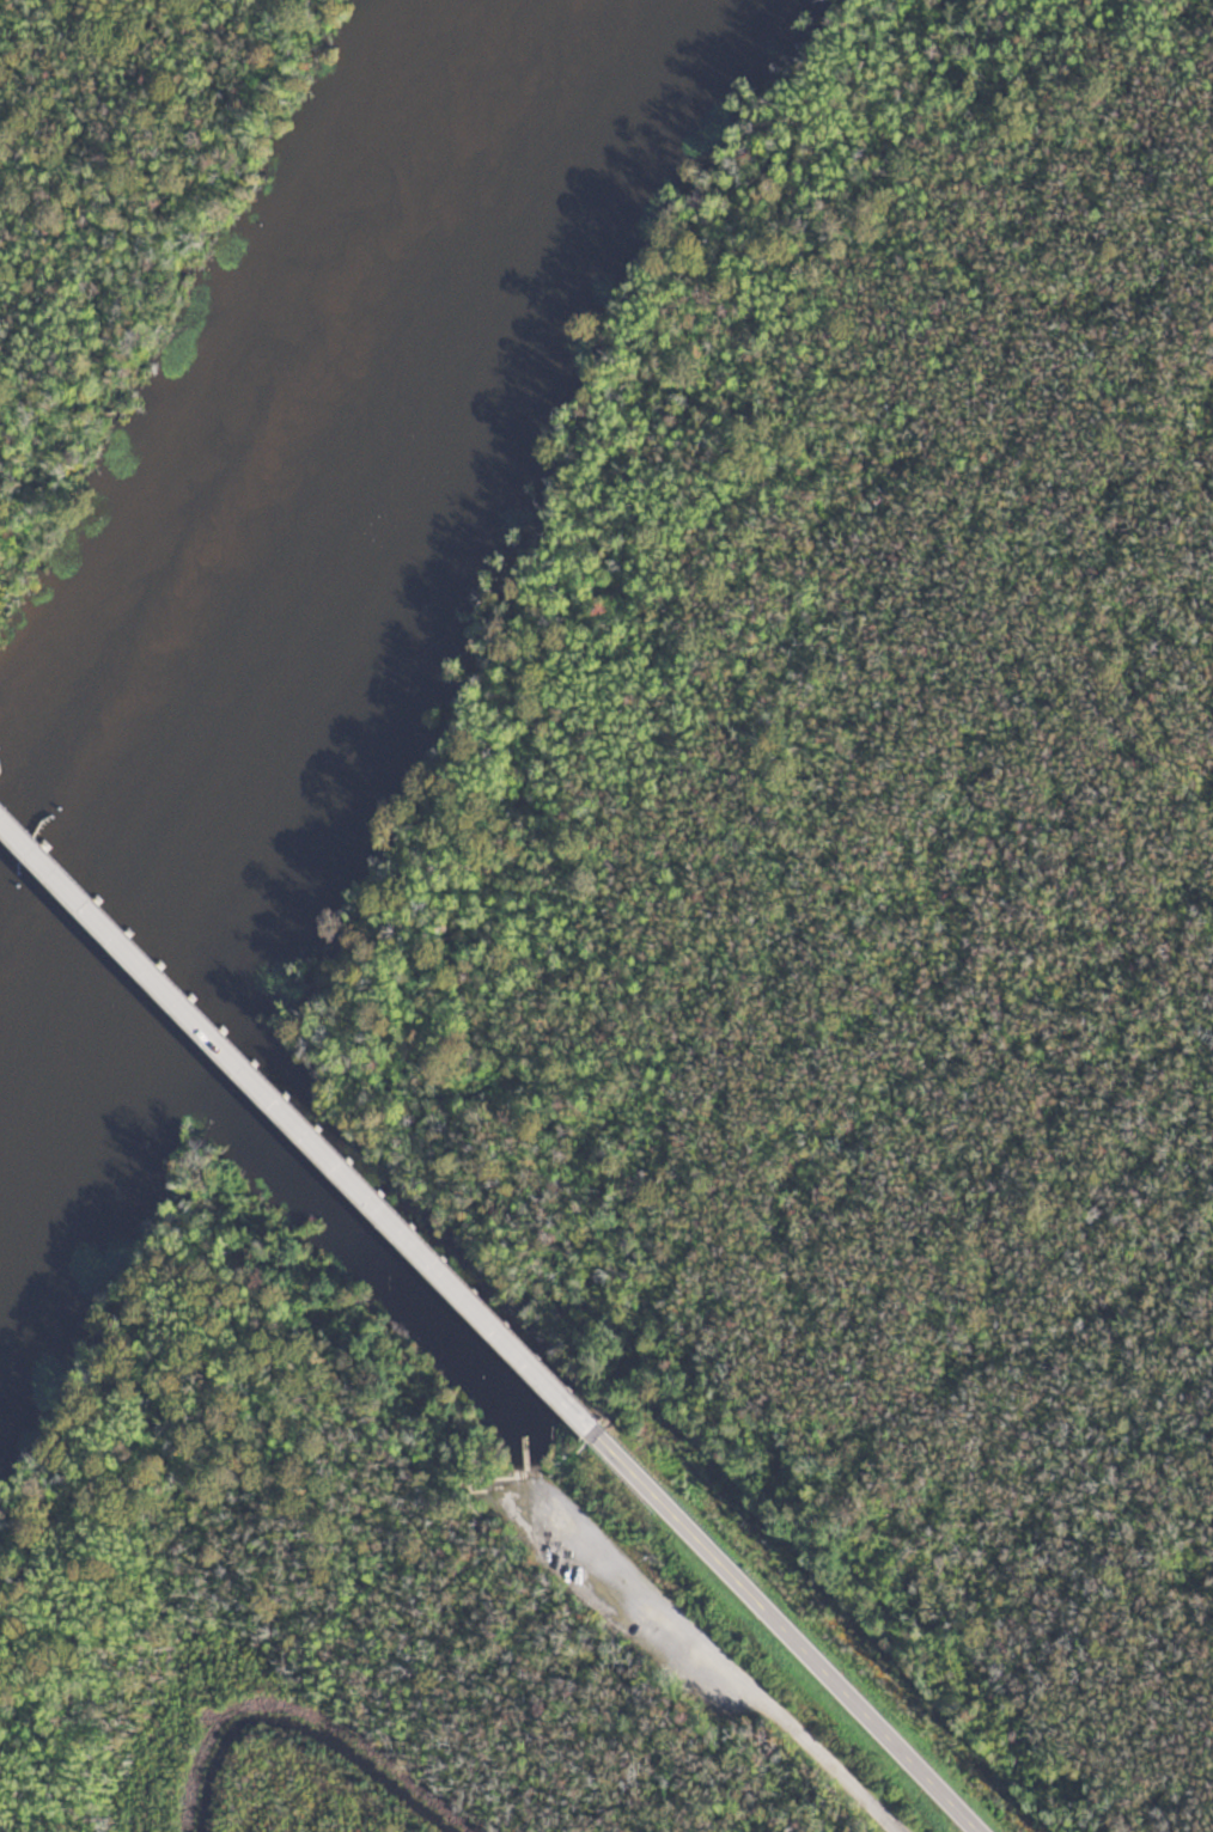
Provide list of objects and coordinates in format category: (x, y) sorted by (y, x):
river: (301, 523)
road: (16, 824)
road: (311, 1132)
road: (793, 1628)
road: (714, 1654)
parking lot: (752, 1685)

